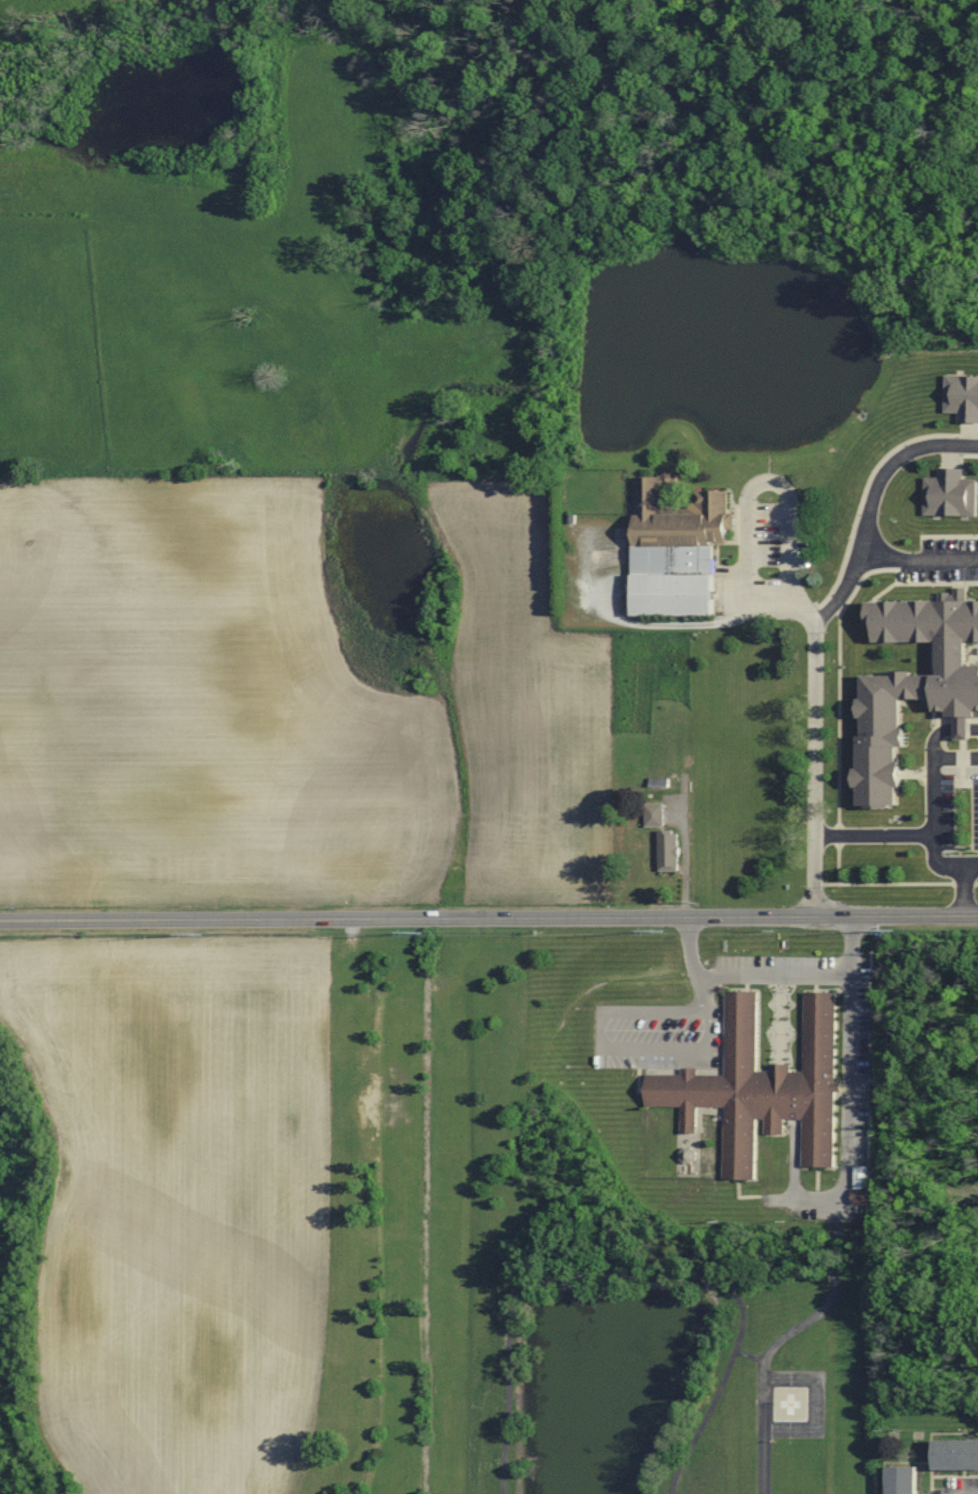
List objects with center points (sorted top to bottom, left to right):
building: (951, 493)
road: (744, 505)
road: (870, 505)
building: (676, 548)
road: (916, 562)
building: (914, 686)
road: (815, 772)
road: (933, 799)
building: (655, 814)
road: (919, 836)
building: (670, 850)
road: (683, 859)
road: (969, 869)
road: (488, 915)
road: (770, 975)
road: (702, 994)
road: (634, 1014)
road: (669, 1050)
building: (762, 1086)
road: (844, 1107)
building: (861, 1178)
building: (861, 1197)
road: (635, 1278)
helipad: (790, 1404)
road: (764, 1434)
building: (957, 1454)
building: (905, 1480)

